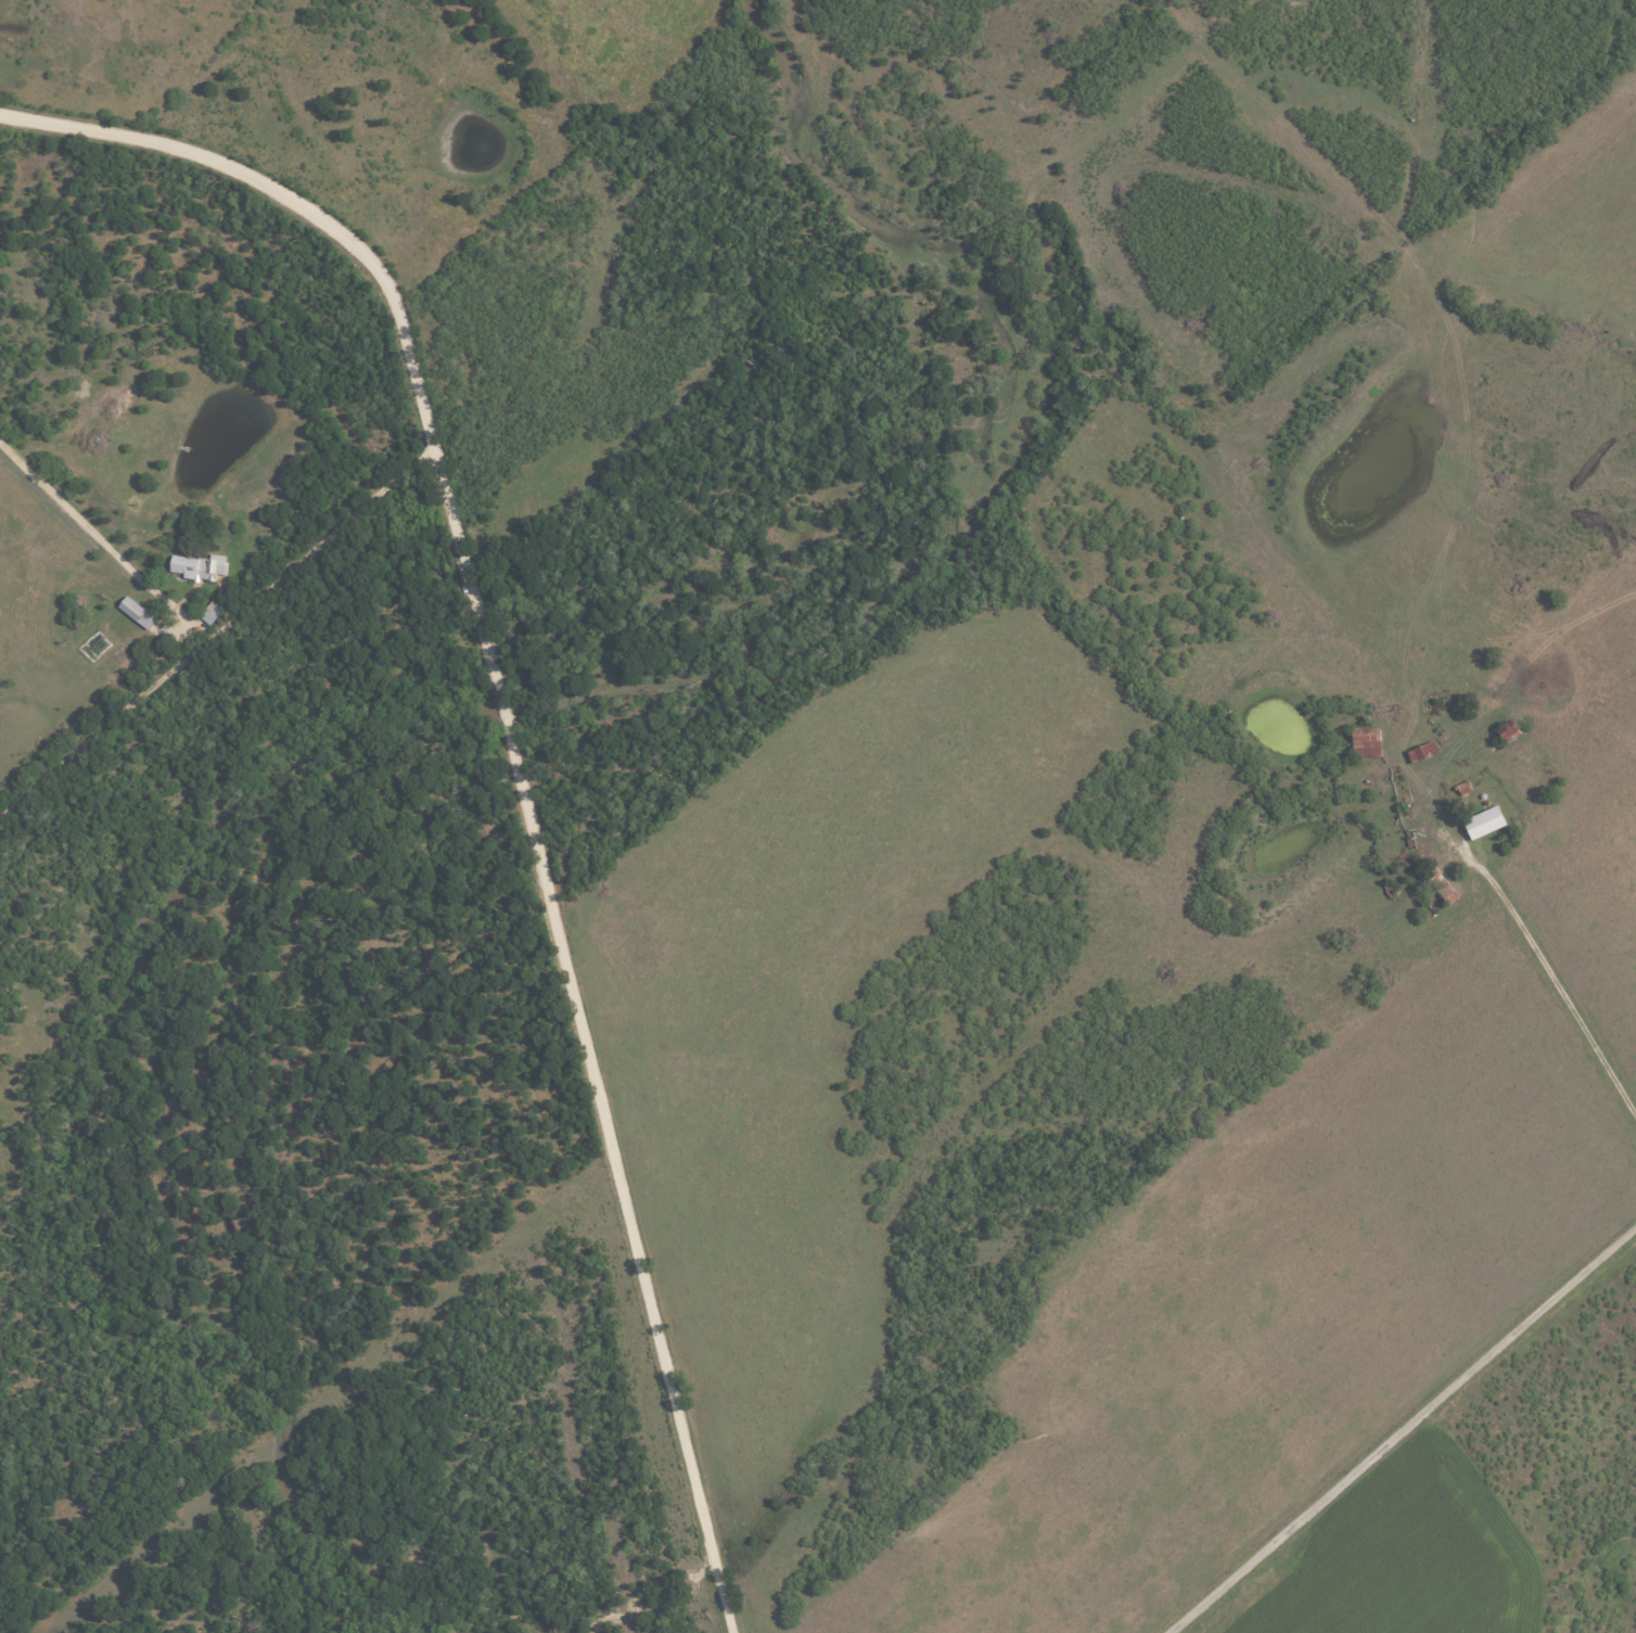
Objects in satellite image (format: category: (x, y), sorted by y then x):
road: (92, 521)
building: (204, 567)
building: (141, 613)
road: (217, 635)
building: (1365, 743)
road: (512, 745)
building: (1483, 822)
road: (1574, 1011)
road: (1405, 1431)

